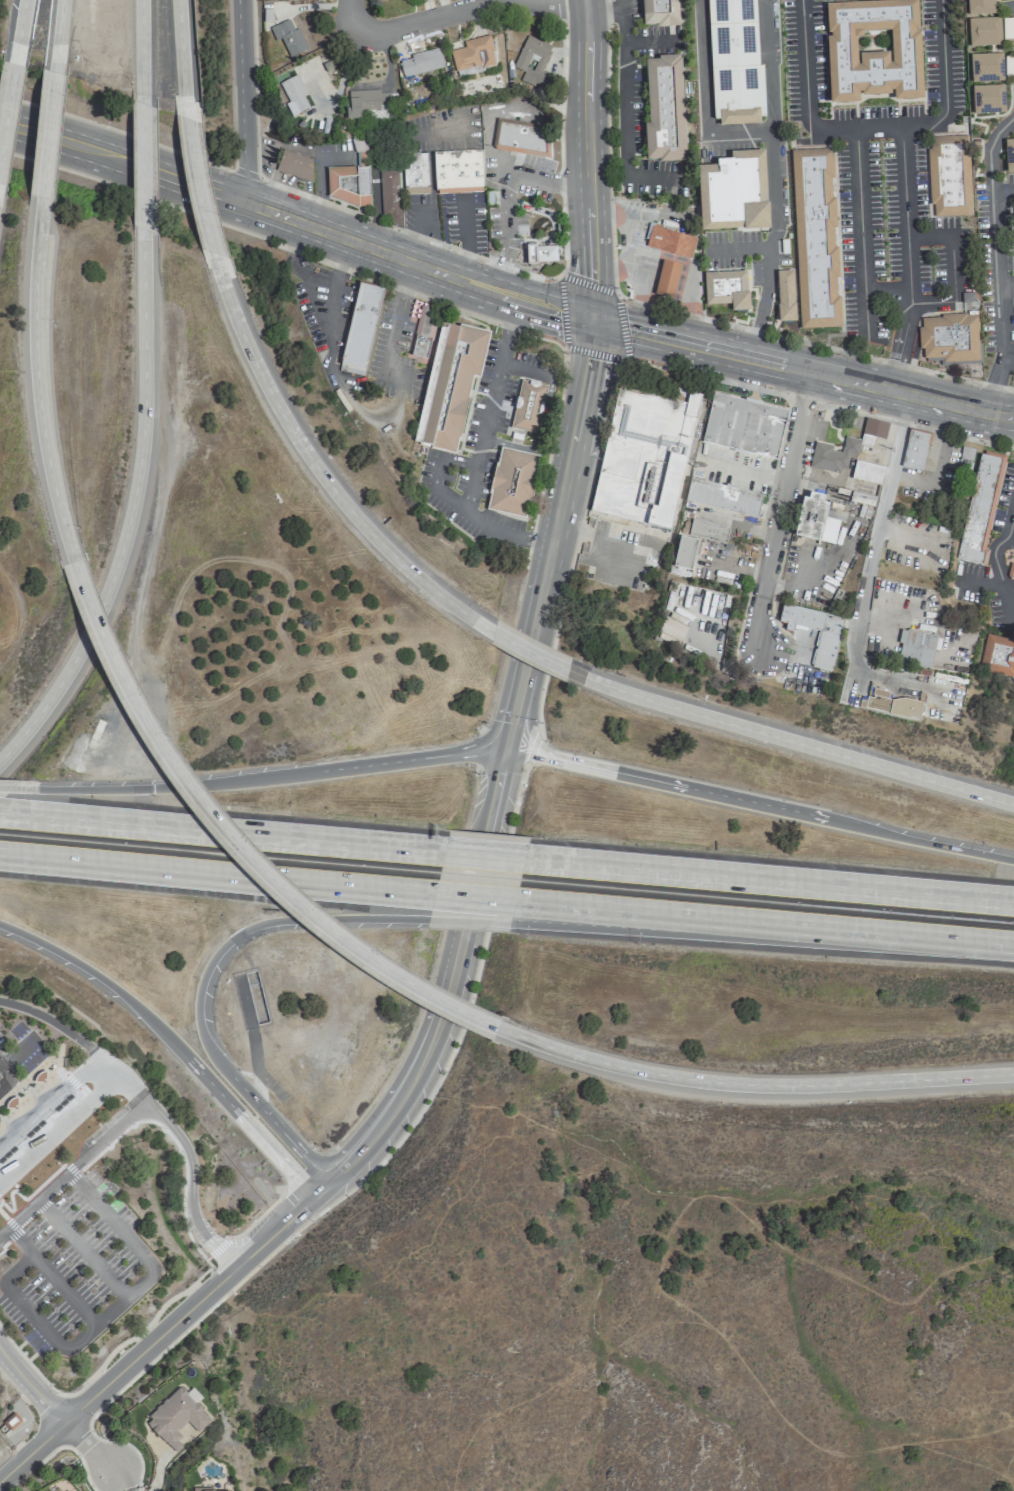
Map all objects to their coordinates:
building: (980, 7)
road: (560, 10)
road: (604, 11)
road: (456, 12)
building: (659, 13)
road: (18, 27)
road: (58, 30)
building: (984, 32)
road: (142, 38)
building: (289, 38)
road: (180, 47)
building: (875, 51)
building: (472, 55)
building: (533, 62)
building: (734, 62)
building: (420, 63)
road: (767, 65)
building: (986, 68)
building: (294, 94)
road: (7, 97)
road: (704, 99)
road: (242, 100)
building: (988, 100)
building: (371, 105)
road: (627, 110)
building: (664, 110)
road: (871, 127)
road: (118, 130)
road: (47, 133)
building: (521, 138)
road: (143, 152)
building: (1009, 155)
road: (120, 156)
road: (587, 159)
building: (295, 165)
building: (458, 171)
road: (246, 173)
building: (414, 173)
building: (949, 176)
road: (194, 180)
building: (347, 185)
road: (505, 189)
road: (1003, 190)
road: (774, 191)
building: (733, 193)
building: (390, 197)
road: (553, 225)
road: (863, 235)
building: (818, 239)
building: (669, 241)
road: (283, 245)
road: (445, 245)
road: (634, 247)
road: (377, 251)
road: (907, 253)
building: (539, 254)
road: (545, 263)
road: (952, 268)
road: (614, 269)
road: (689, 269)
road: (765, 269)
road: (999, 269)
building: (667, 279)
building: (726, 289)
road: (1007, 289)
road: (614, 295)
building: (785, 296)
road: (670, 309)
road: (555, 310)
road: (512, 313)
traffic signals: (594, 320)
building: (363, 327)
road: (395, 329)
building: (426, 332)
road: (328, 340)
building: (950, 340)
road: (1009, 356)
road: (803, 360)
road: (36, 383)
road: (800, 383)
building: (450, 389)
road: (801, 398)
building: (528, 407)
road: (486, 417)
building: (744, 425)
road: (915, 425)
building: (874, 428)
road: (551, 443)
building: (914, 450)
building: (832, 455)
building: (643, 457)
road: (595, 466)
building: (867, 472)
road: (319, 473)
building: (512, 482)
building: (721, 497)
road: (461, 505)
building: (979, 508)
road: (128, 510)
road: (776, 518)
building: (815, 519)
building: (708, 531)
road: (553, 534)
road: (625, 539)
building: (684, 553)
road: (993, 558)
building: (1010, 571)
road: (866, 578)
building: (672, 629)
building: (916, 648)
building: (825, 649)
road: (527, 653)
building: (998, 655)
building: (892, 705)
road: (789, 739)
traffic signals: (506, 748)
road: (532, 748)
road: (259, 778)
road: (666, 782)
traffic signals: (152, 787)
road: (5, 788)
road: (221, 832)
road: (234, 838)
road: (919, 842)
road: (482, 856)
road: (216, 875)
road: (768, 881)
road: (473, 898)
road: (587, 908)
traffic signals: (295, 918)
road: (584, 918)
road: (467, 919)
road: (248, 929)
road: (837, 930)
road: (453, 982)
road: (54, 1023)
parking lot: (1, 1038)
road: (168, 1043)
parking lot: (25, 1045)
road: (110, 1065)
road: (7, 1075)
building: (39, 1075)
road: (751, 1085)
road: (57, 1094)
road: (27, 1100)
building: (10, 1101)
parking lot: (105, 1124)
road: (59, 1127)
road: (280, 1129)
road: (106, 1136)
road: (8, 1141)
road: (175, 1143)
road: (394, 1147)
road: (190, 1163)
road: (71, 1168)
street lamp: (363, 1182)
road: (320, 1187)
road: (25, 1199)
road: (0, 1202)
road: (33, 1204)
road: (296, 1205)
road: (36, 1211)
road: (3, 1215)
road: (257, 1217)
road: (11, 1225)
road: (275, 1228)
road: (218, 1246)
road: (82, 1247)
parking lot: (71, 1262)
road: (51, 1276)
road: (110, 1309)
road: (151, 1343)
road: (106, 1355)
road: (31, 1387)
building: (176, 1416)
road: (32, 1451)
road: (96, 1453)
building: (65, 1489)
building: (213, 1490)

